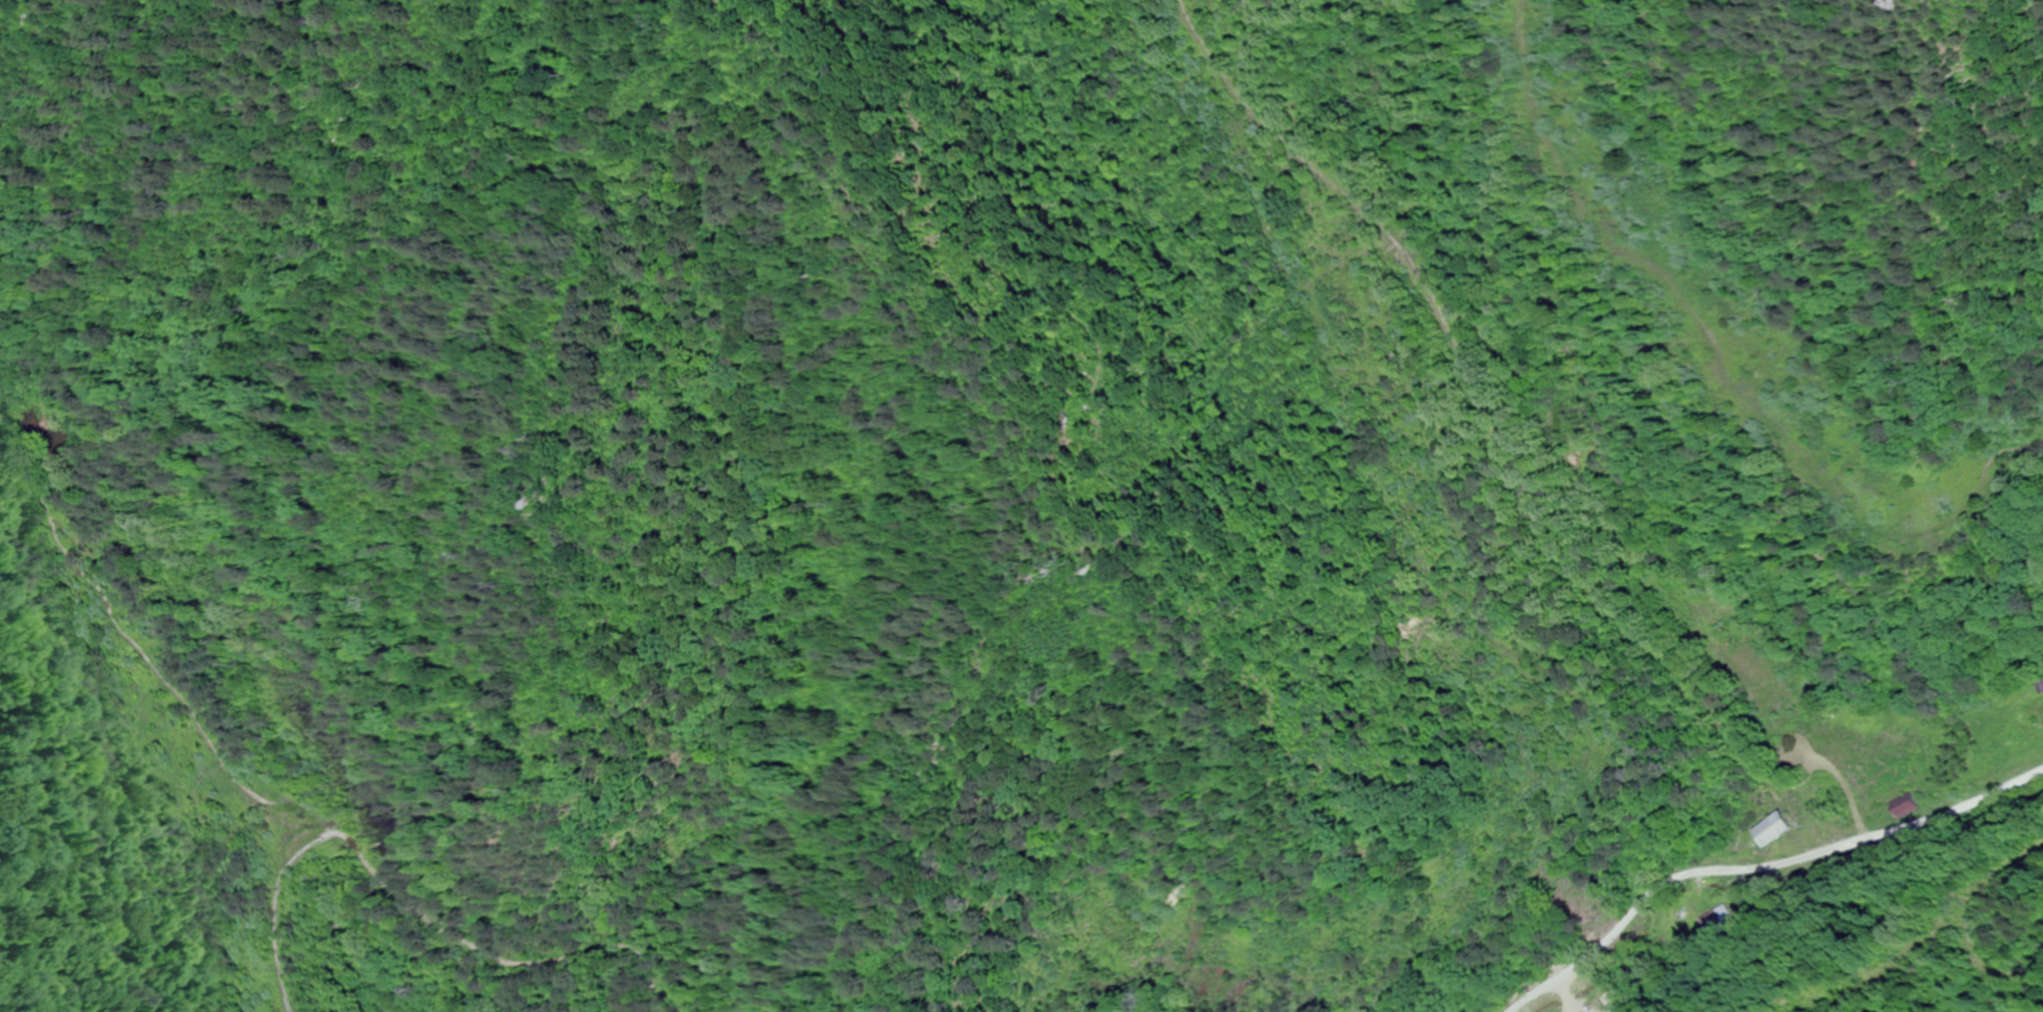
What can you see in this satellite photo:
building: (2038, 685)
building: (1903, 807)
building: (1771, 831)
road: (1758, 867)
building: (1719, 925)

